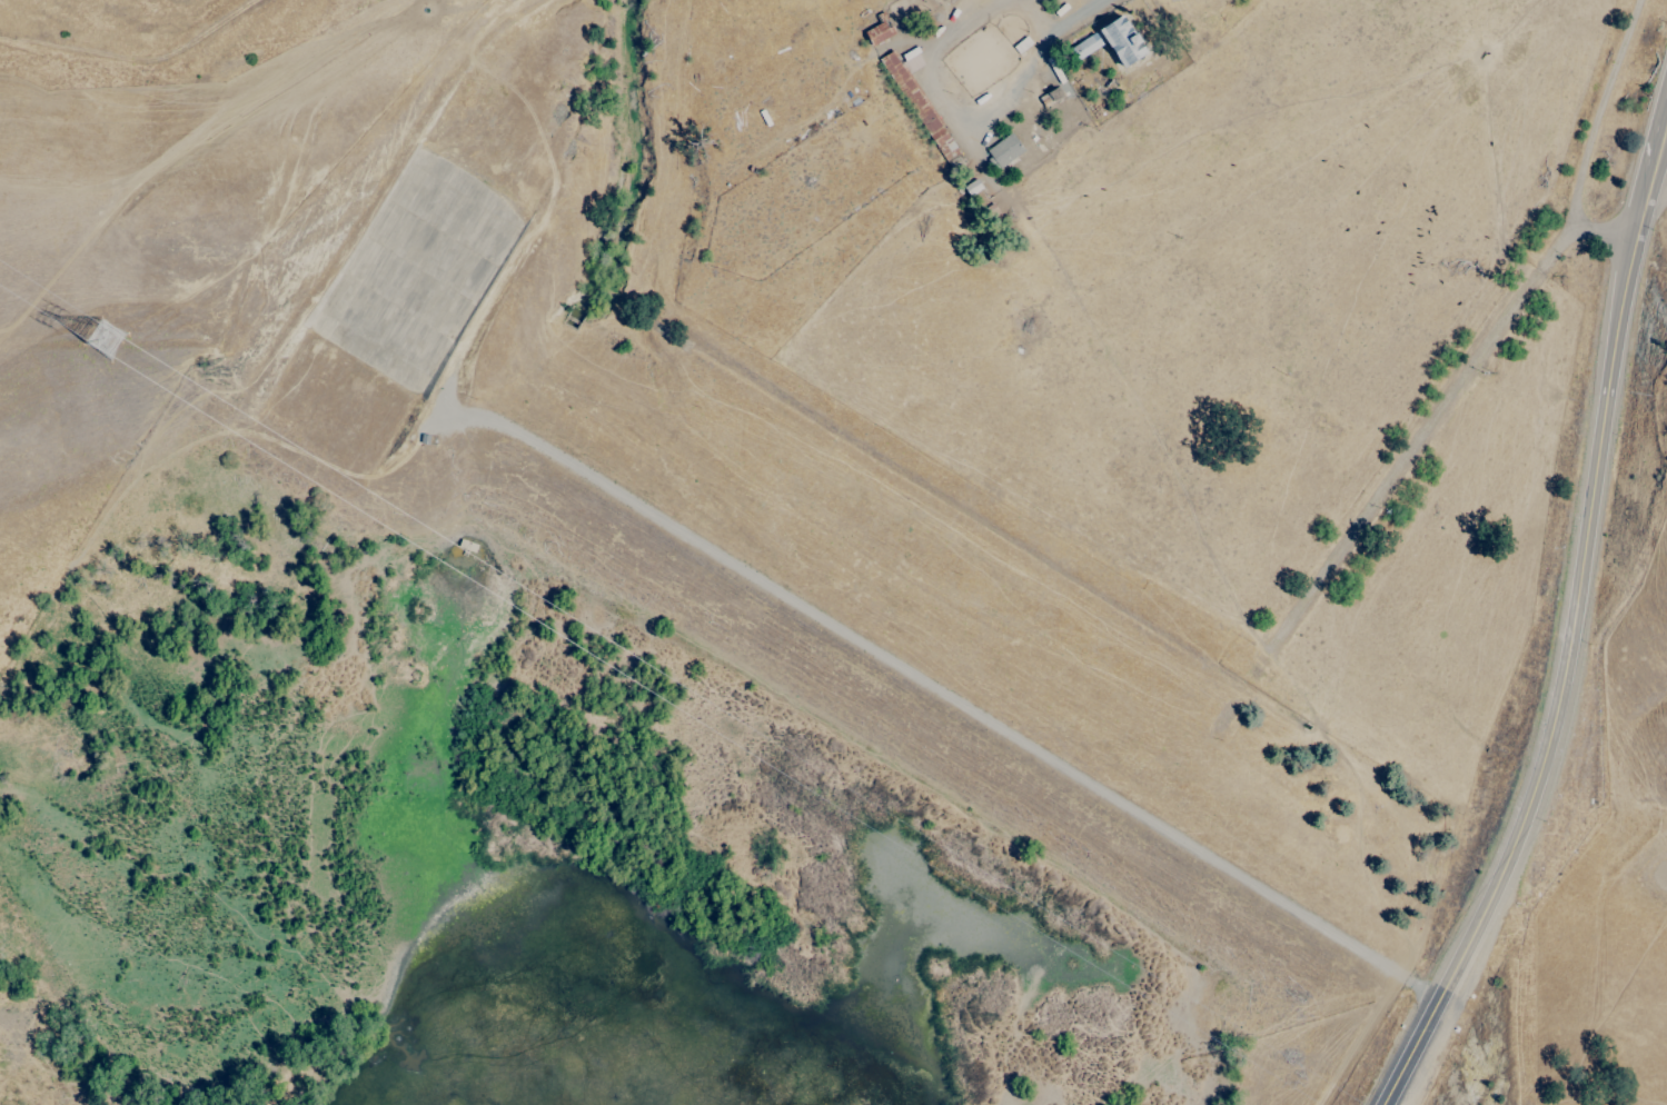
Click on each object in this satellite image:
building: (879, 32)
building: (1121, 40)
building: (1083, 47)
road: (133, 58)
building: (921, 104)
road: (971, 121)
road: (1588, 143)
building: (1004, 150)
park: (151, 257)
park: (1197, 291)
power tower: (110, 346)
road: (1575, 630)
park: (1616, 896)

